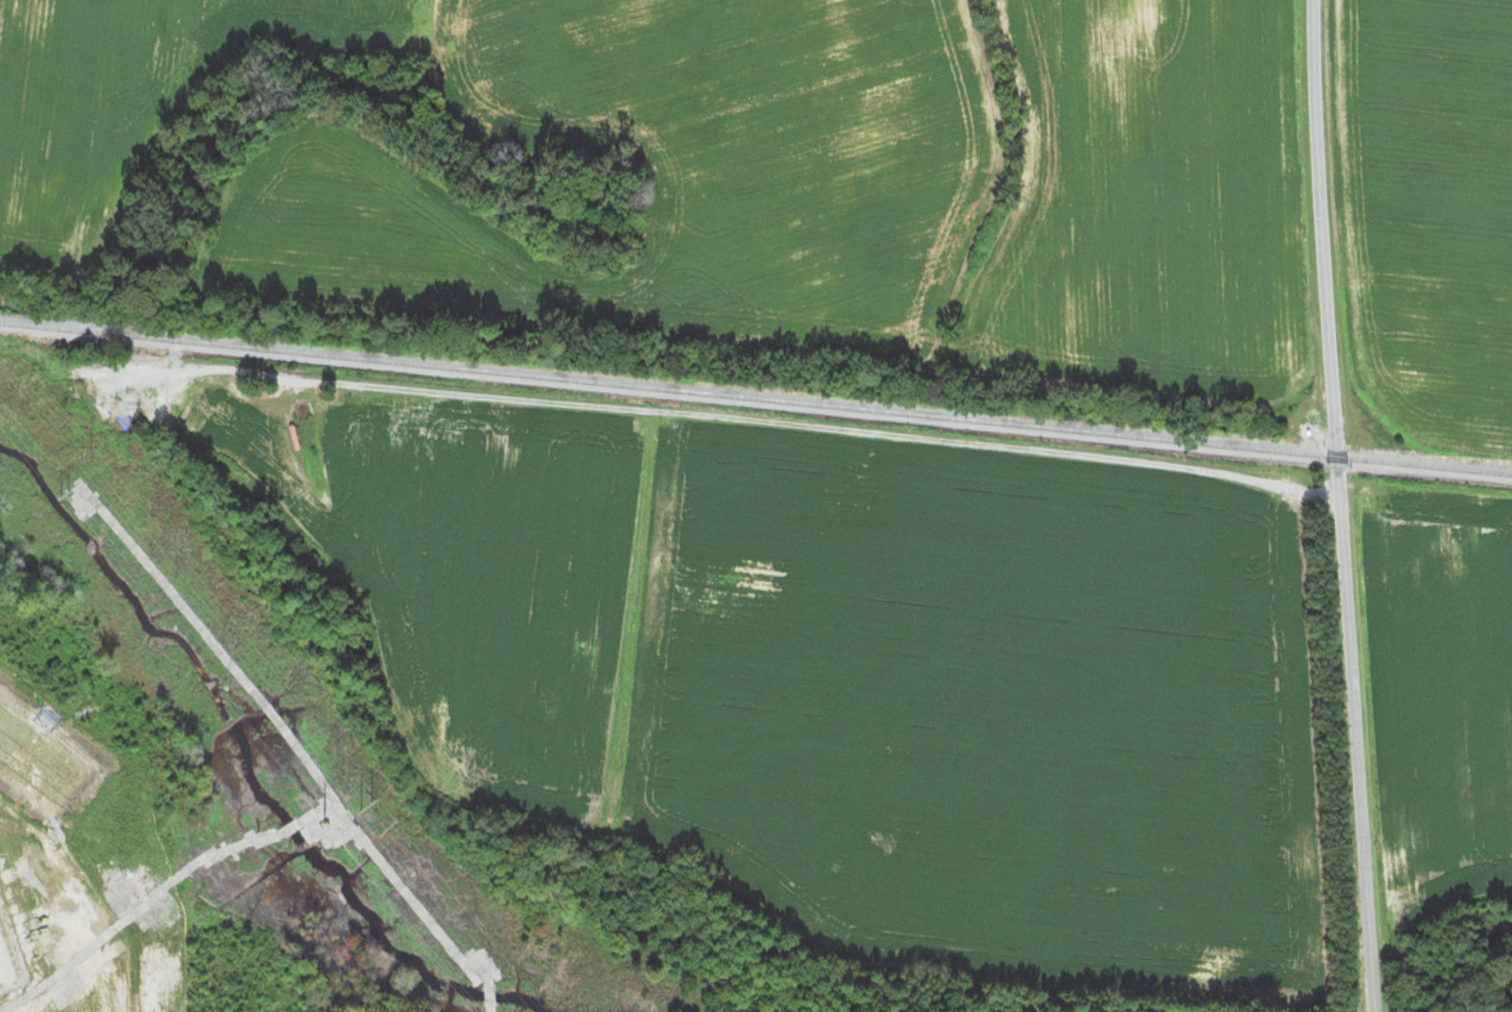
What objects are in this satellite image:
railway: (756, 396)
power tower: (96, 454)
road: (1340, 505)
power tower: (381, 810)

